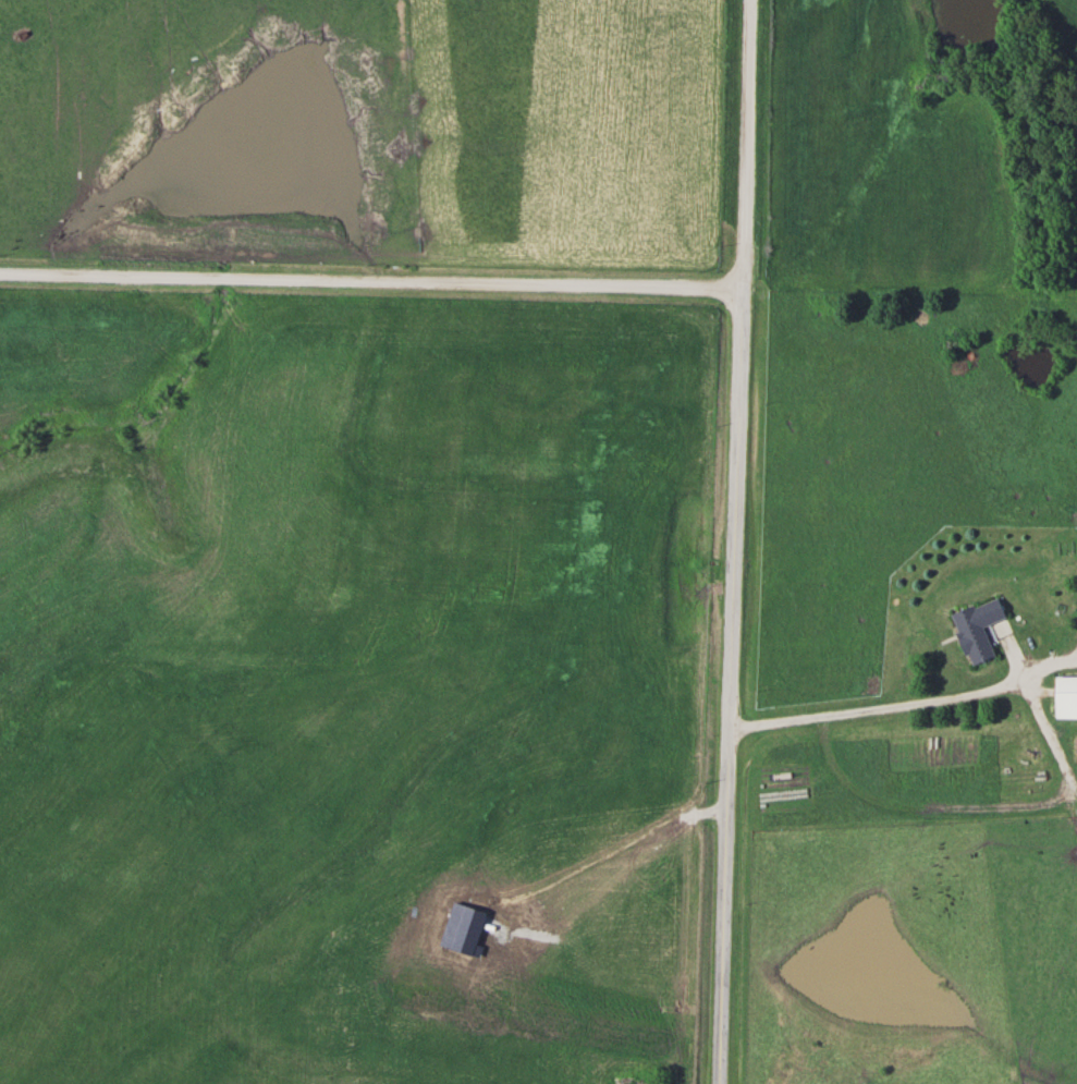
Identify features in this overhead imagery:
road: (746, 144)
road: (371, 280)
building: (981, 629)
road: (726, 685)
building: (1068, 696)
road: (874, 707)

